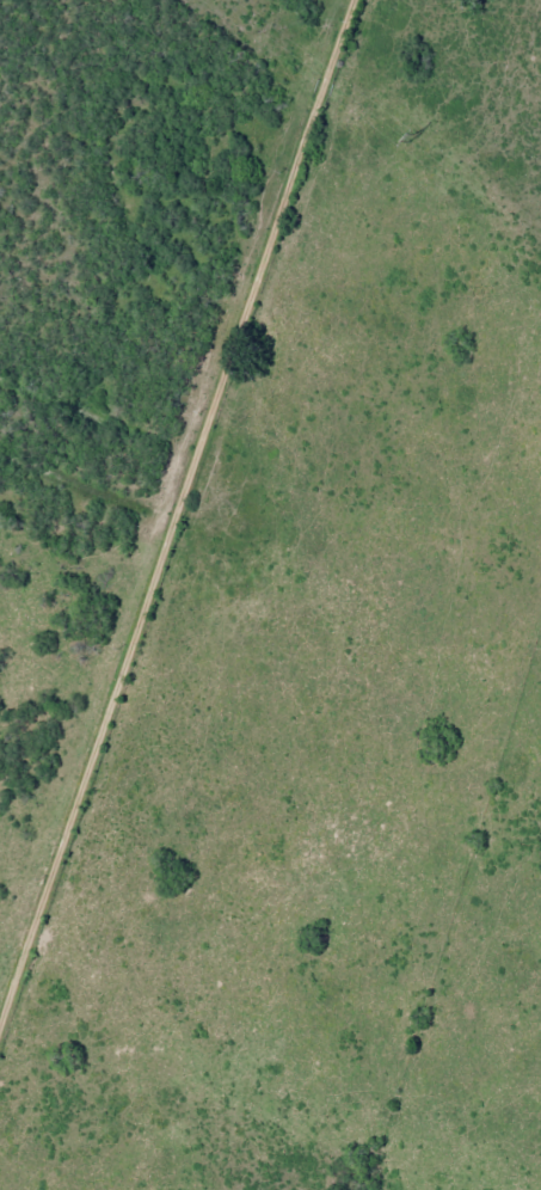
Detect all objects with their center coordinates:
power tower: (405, 140)
road: (182, 507)

